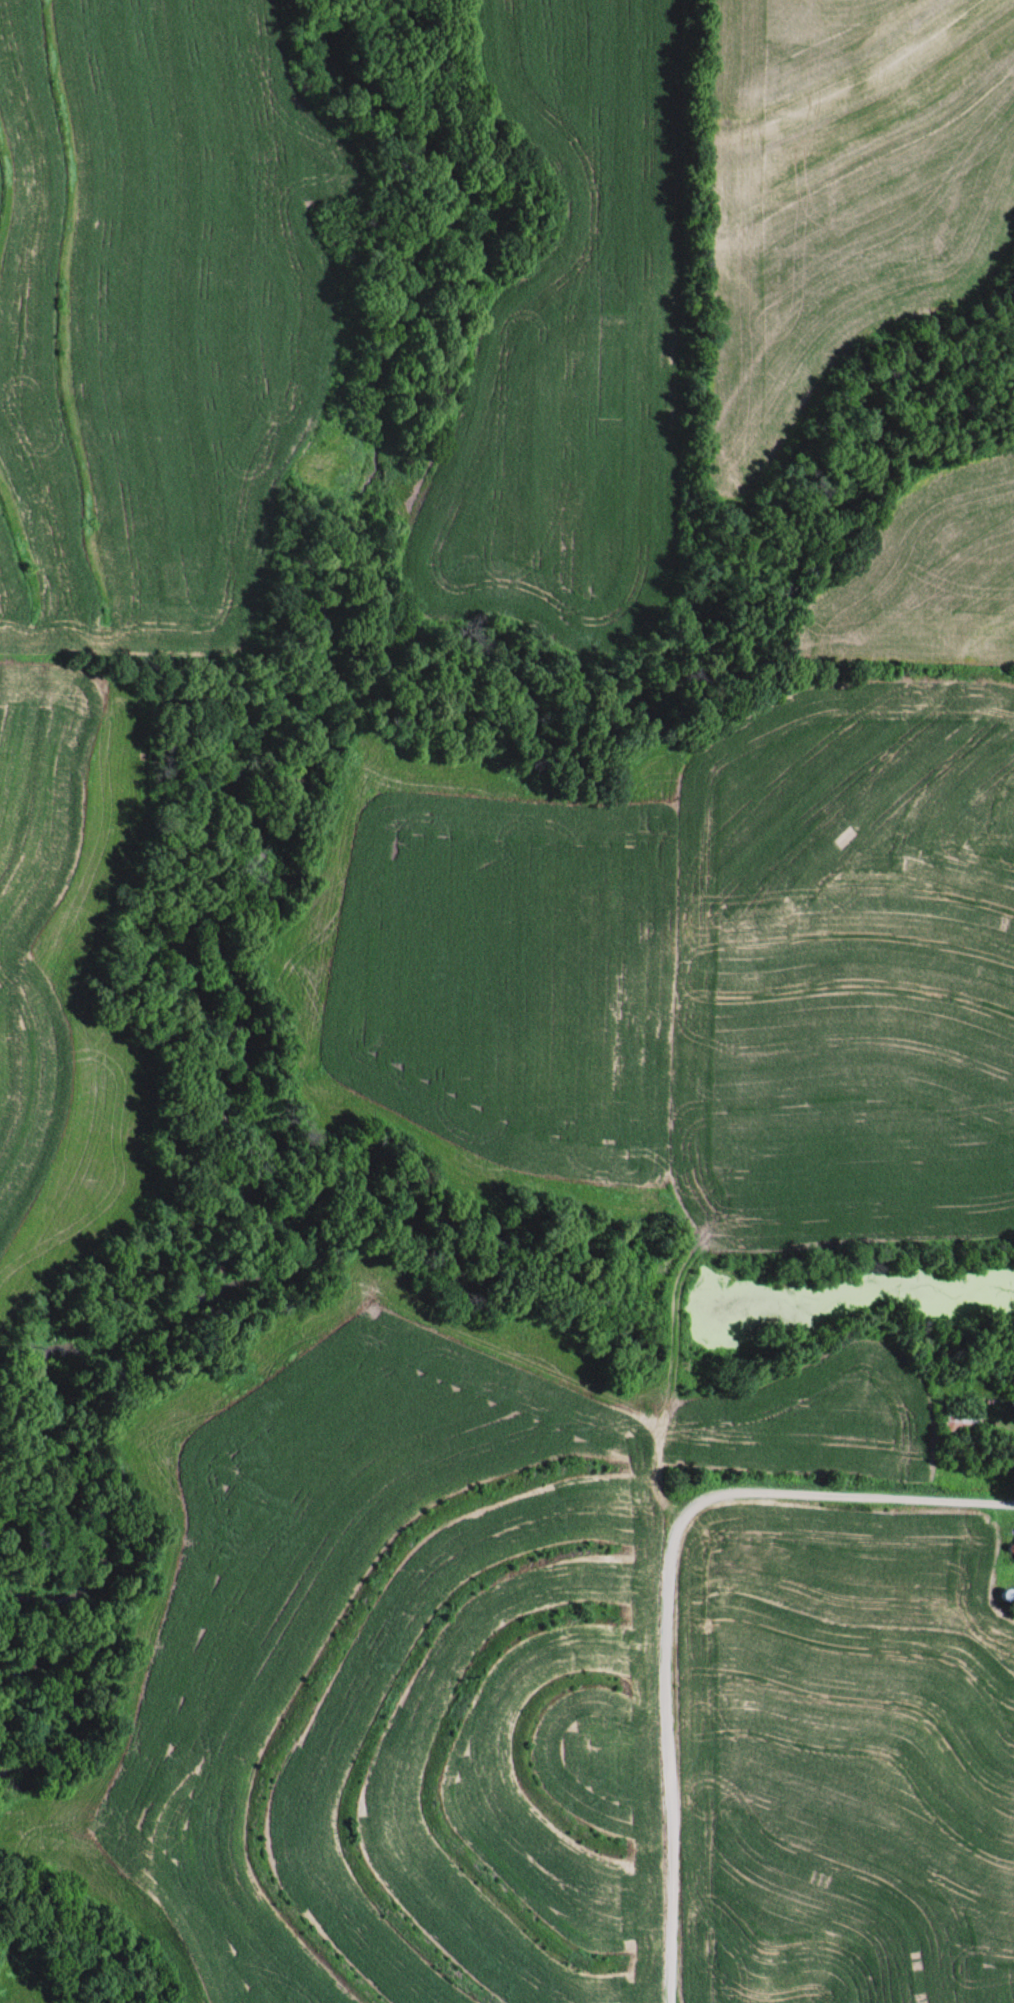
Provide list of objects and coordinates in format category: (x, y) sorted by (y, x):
building: (957, 1418)
road: (663, 1584)

